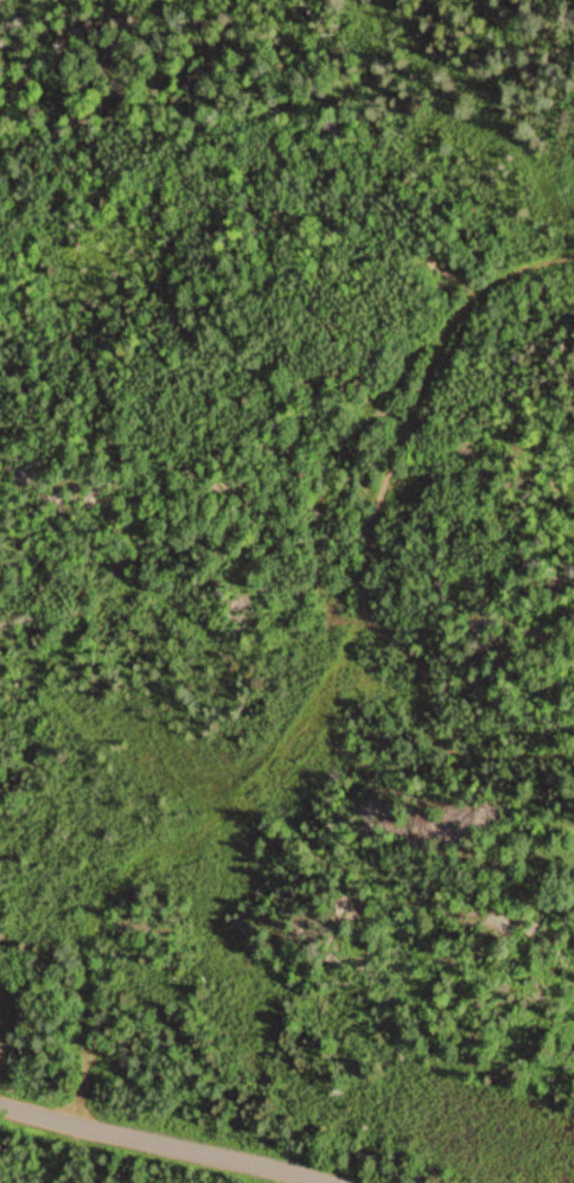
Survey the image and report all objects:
road: (170, 1137)

